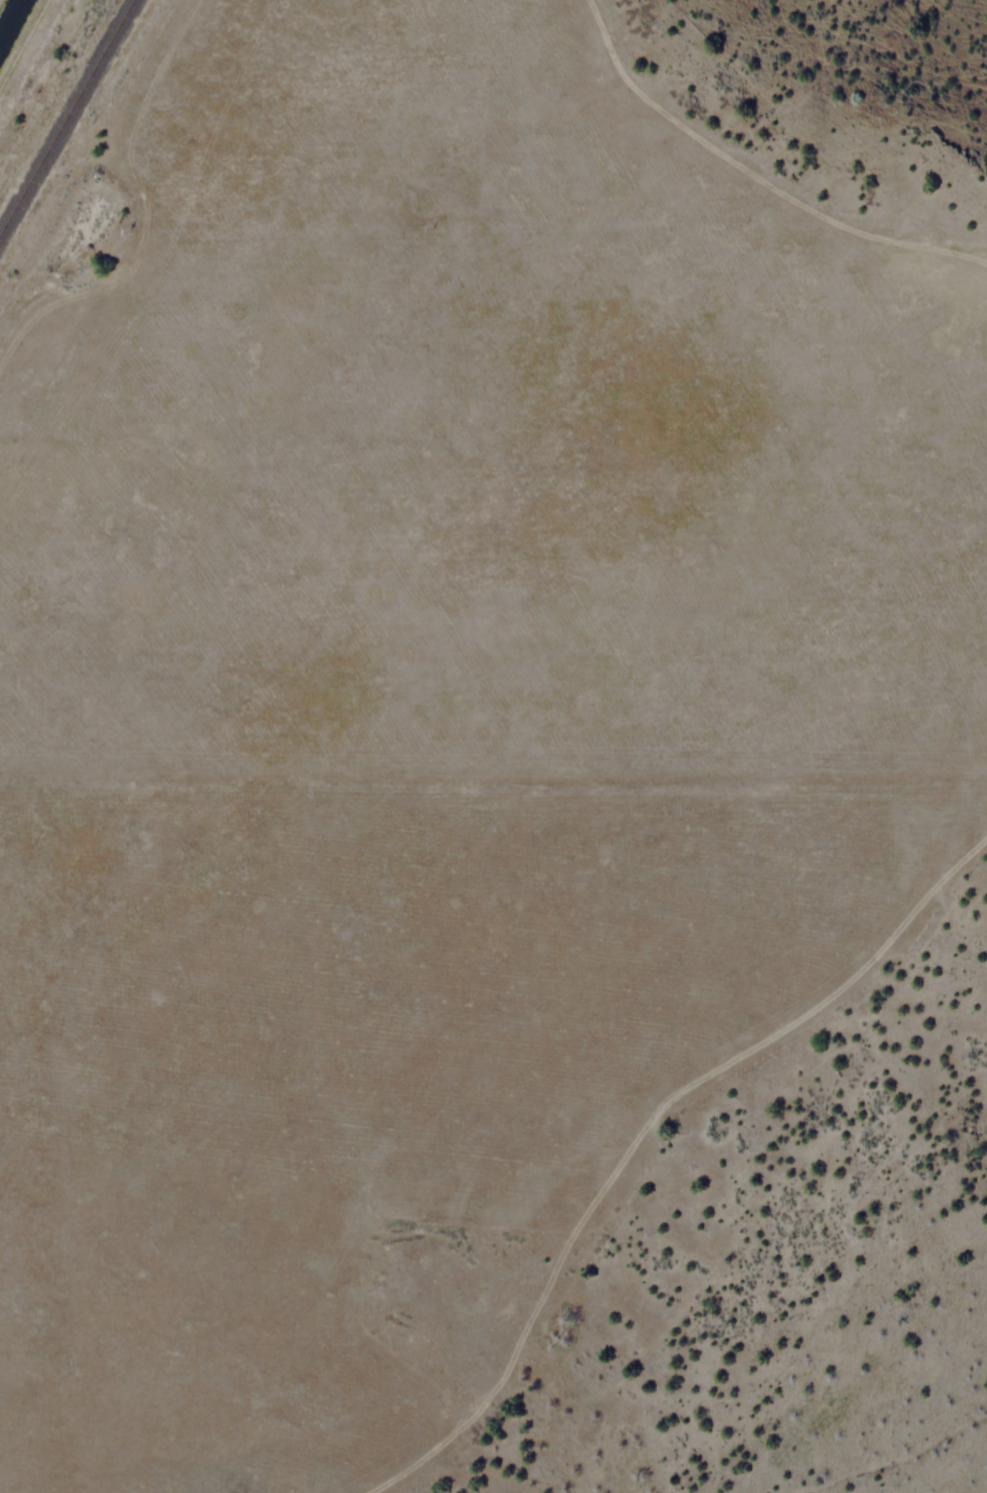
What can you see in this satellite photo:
road: (23, 44)
railway: (65, 115)

